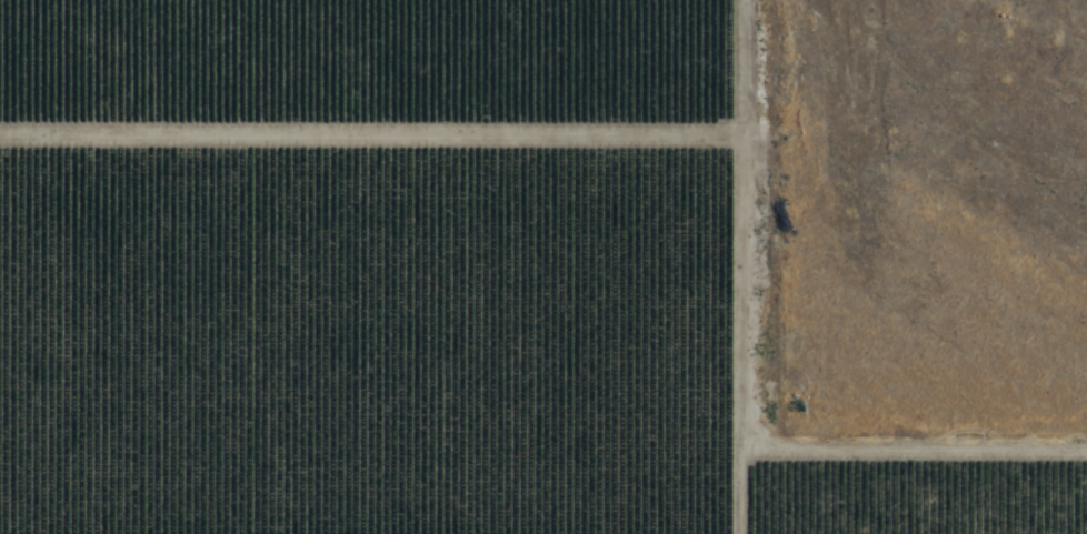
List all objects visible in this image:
crop: (408, 281)

